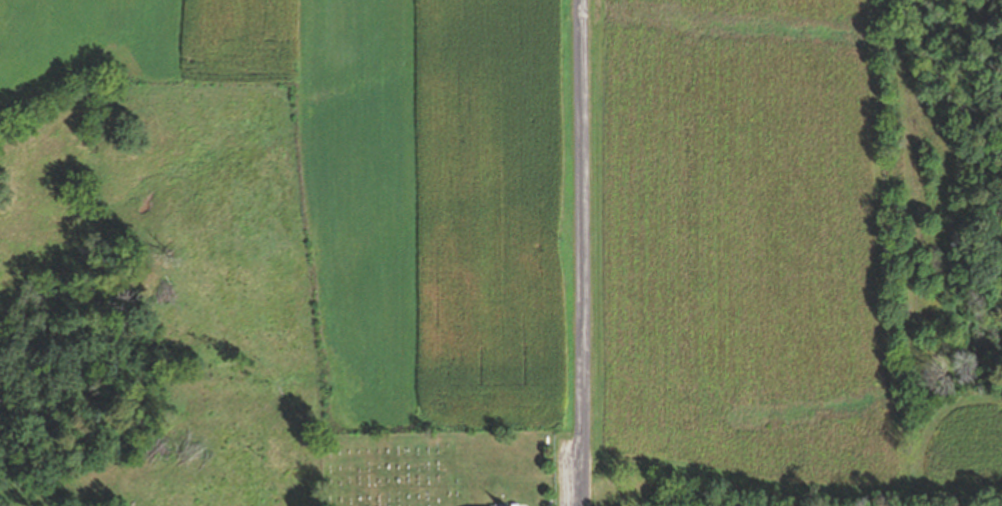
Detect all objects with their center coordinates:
road: (581, 253)
park: (393, 468)

